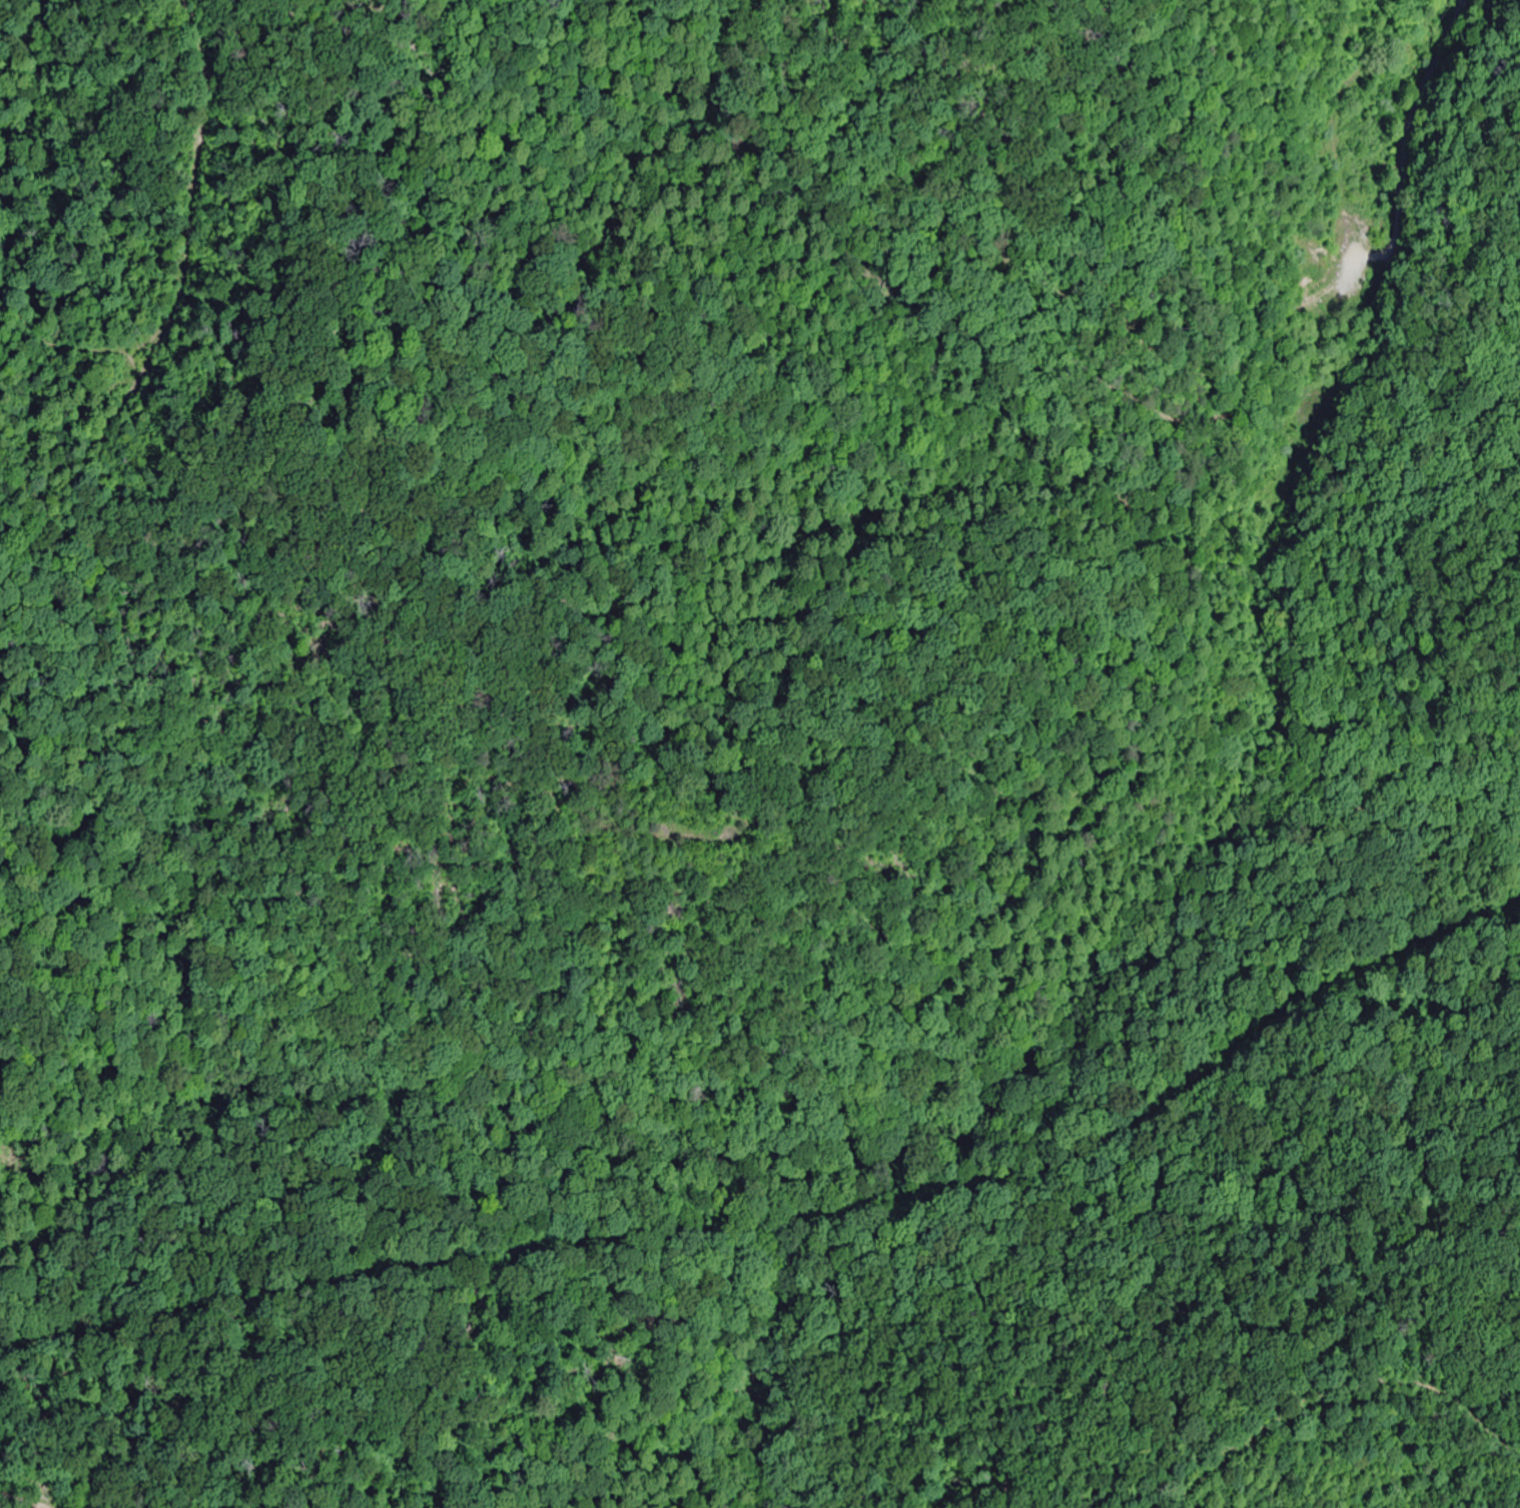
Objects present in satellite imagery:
road: (1437, 54)

